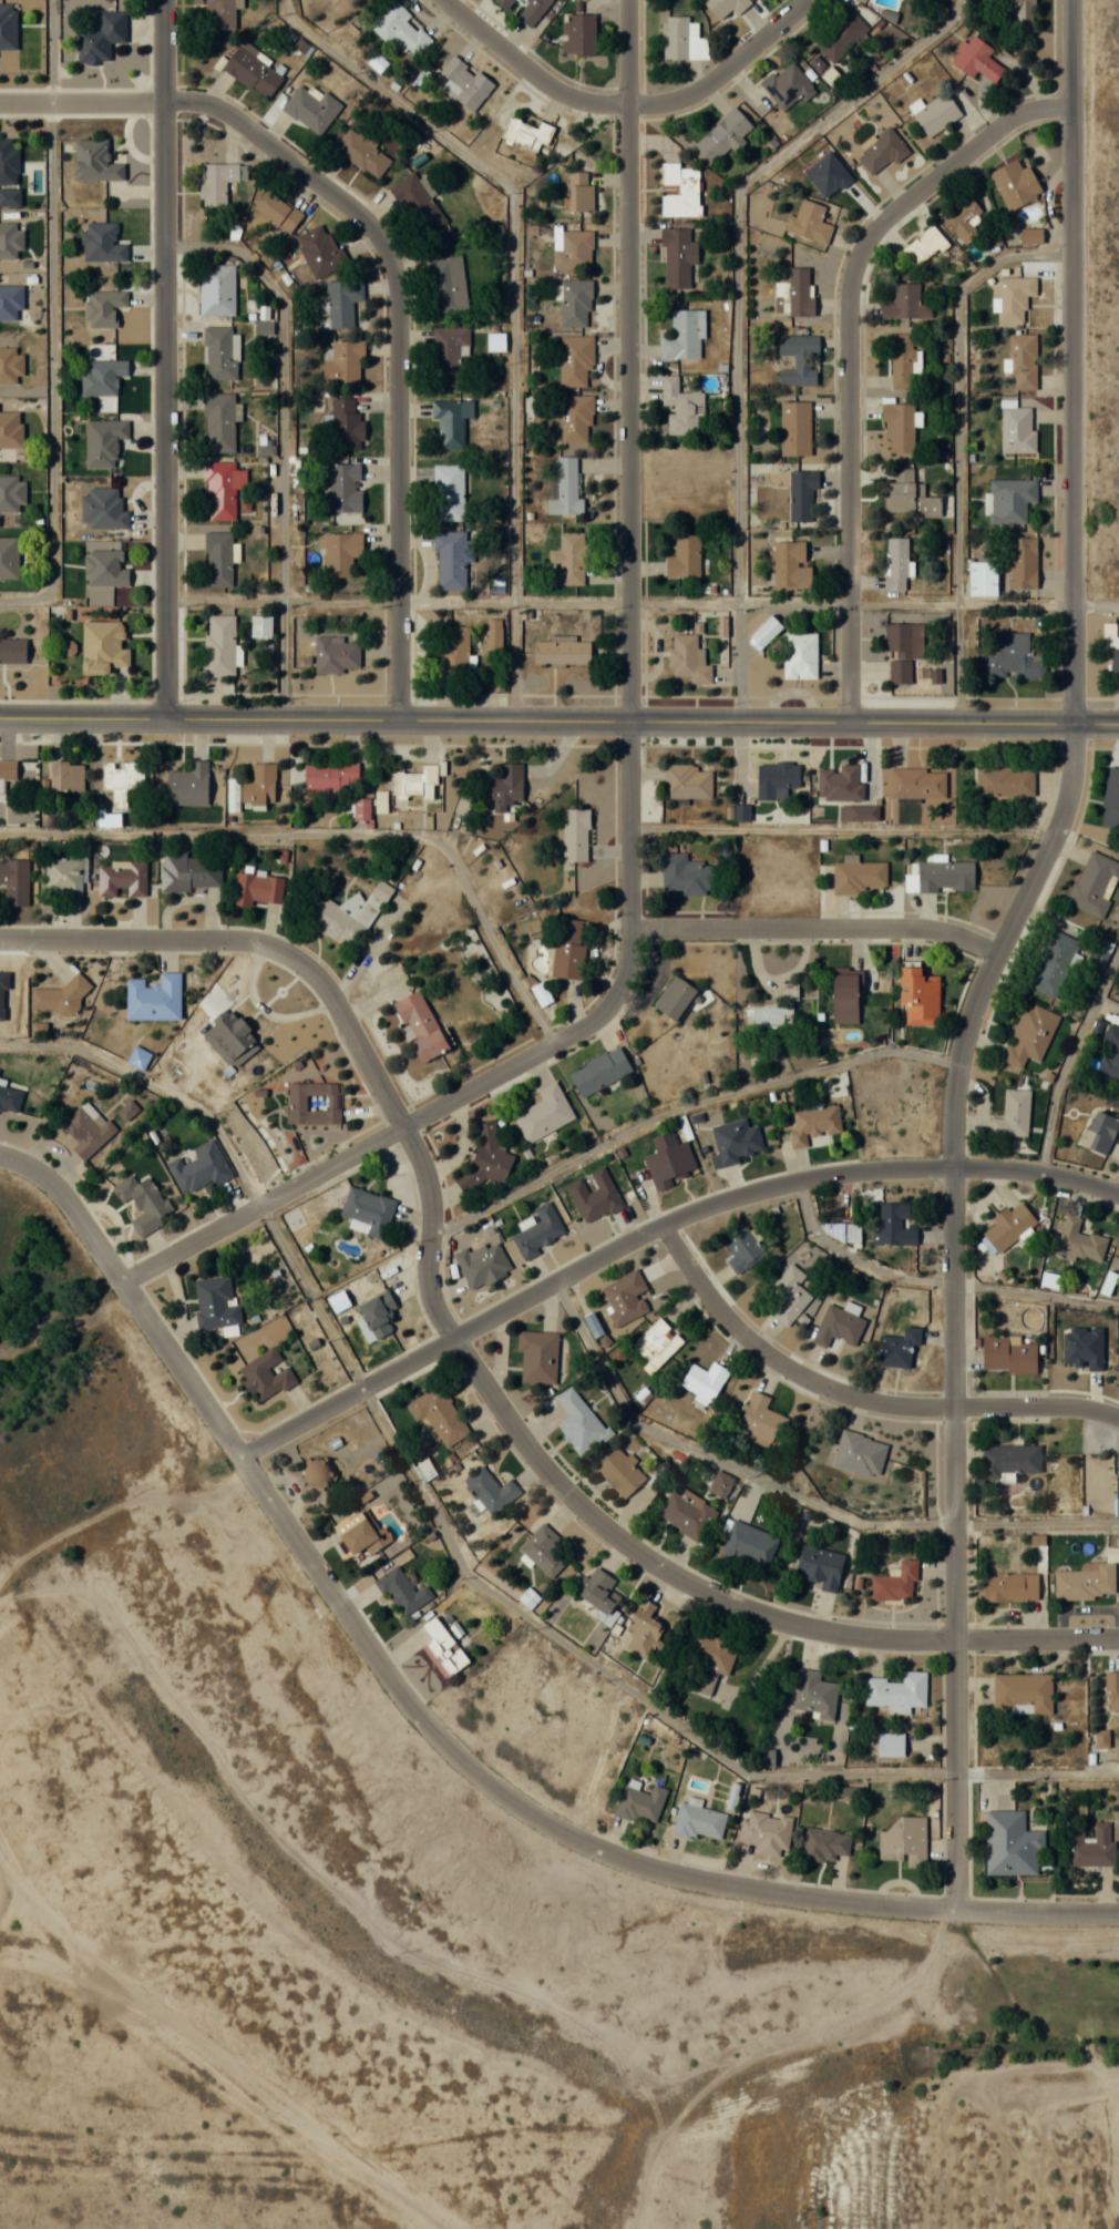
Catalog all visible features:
building: (503, 3)
building: (723, 8)
building: (531, 11)
building: (218, 13)
building: (1013, 13)
building: (401, 30)
building: (577, 33)
building: (840, 33)
building: (101, 37)
building: (676, 37)
building: (976, 58)
road: (723, 69)
road: (526, 70)
building: (251, 71)
building: (831, 78)
building: (464, 82)
building: (788, 85)
building: (310, 106)
building: (935, 112)
building: (526, 133)
building: (723, 135)
building: (880, 151)
building: (361, 153)
building: (94, 161)
building: (8, 163)
building: (217, 182)
building: (1015, 184)
building: (678, 190)
building: (578, 192)
building: (414, 201)
building: (277, 211)
building: (962, 218)
building: (808, 223)
building: (9, 239)
building: (102, 243)
building: (923, 246)
building: (573, 249)
building: (319, 250)
building: (677, 257)
road: (390, 265)
building: (445, 284)
building: (216, 289)
building: (793, 293)
building: (1014, 297)
building: (10, 301)
building: (342, 301)
building: (574, 303)
building: (905, 304)
road: (513, 305)
building: (103, 307)
road: (738, 307)
road: (51, 324)
building: (682, 335)
building: (219, 352)
building: (448, 352)
road: (848, 352)
road: (164, 358)
building: (798, 358)
building: (1022, 359)
building: (574, 360)
building: (900, 361)
road: (1071, 361)
building: (341, 364)
building: (10, 366)
building: (102, 376)
building: (680, 407)
building: (575, 417)
building: (218, 421)
building: (449, 421)
building: (346, 425)
building: (794, 427)
building: (897, 427)
building: (10, 429)
building: (1016, 429)
road: (281, 439)
building: (102, 441)
road: (957, 443)
building: (904, 473)
building: (565, 488)
building: (220, 489)
building: (446, 491)
building: (342, 492)
building: (11, 493)
building: (800, 494)
building: (908, 499)
building: (1009, 500)
building: (103, 509)
building: (340, 552)
building: (684, 556)
building: (8, 558)
building: (568, 558)
building: (218, 559)
building: (450, 560)
building: (896, 562)
building: (1022, 562)
building: (788, 564)
building: (104, 569)
building: (983, 579)
road: (618, 600)
road: (1096, 605)
building: (764, 631)
building: (218, 645)
building: (102, 647)
building: (1112, 647)
building: (902, 650)
building: (12, 651)
building: (452, 651)
building: (561, 651)
building: (337, 655)
building: (799, 655)
building: (1010, 656)
building: (688, 660)
road: (558, 720)
building: (7, 773)
building: (122, 775)
building: (65, 776)
building: (330, 776)
building: (776, 779)
building: (686, 783)
building: (840, 783)
building: (916, 783)
building: (1004, 783)
building: (258, 784)
building: (413, 784)
building: (187, 785)
road: (628, 786)
building: (503, 787)
building: (1110, 800)
building: (361, 809)
road: (842, 829)
building: (575, 835)
road: (337, 836)
building: (189, 872)
building: (64, 875)
building: (687, 875)
building: (859, 876)
building: (945, 876)
building: (121, 877)
building: (14, 881)
building: (1094, 883)
building: (257, 888)
building: (346, 914)
road: (817, 929)
building: (568, 948)
building: (1099, 952)
building: (1054, 962)
building: (541, 994)
building: (846, 995)
building: (918, 996)
building: (58, 998)
building: (675, 998)
building: (153, 999)
building: (774, 1010)
building: (419, 1025)
building: (230, 1034)
building: (1029, 1035)
building: (1111, 1052)
building: (137, 1057)
road: (1067, 1059)
building: (599, 1071)
road: (154, 1087)
building: (9, 1100)
building: (311, 1103)
road: (682, 1107)
building: (544, 1114)
building: (1012, 1114)
building: (813, 1123)
building: (85, 1129)
building: (1101, 1133)
building: (736, 1141)
building: (486, 1159)
building: (670, 1165)
building: (199, 1168)
building: (595, 1196)
building: (142, 1203)
building: (367, 1211)
building: (893, 1226)
building: (1008, 1226)
road: (655, 1227)
building: (537, 1231)
building: (1079, 1241)
building: (742, 1250)
building: (482, 1265)
building: (1049, 1279)
road: (935, 1281)
building: (1108, 1282)
building: (789, 1295)
building: (624, 1297)
building: (215, 1301)
road: (953, 1305)
building: (376, 1316)
building: (838, 1327)
building: (656, 1344)
building: (897, 1348)
building: (1007, 1353)
building: (537, 1357)
road: (470, 1366)
building: (265, 1374)
building: (704, 1381)
road: (855, 1395)
building: (439, 1415)
building: (760, 1420)
building: (579, 1423)
building: (859, 1452)
building: (1009, 1460)
building: (620, 1472)
building: (719, 1484)
building: (487, 1492)
road: (791, 1492)
building: (687, 1514)
building: (360, 1535)
building: (748, 1546)
building: (543, 1551)
building: (820, 1566)
building: (1086, 1582)
building: (894, 1583)
building: (1009, 1587)
building: (402, 1592)
building: (597, 1594)
road: (517, 1612)
building: (644, 1632)
building: (443, 1648)
building: (710, 1658)
building: (1112, 1689)
building: (896, 1690)
building: (1022, 1691)
building: (813, 1695)
road: (433, 1732)
road: (1037, 1771)
building: (639, 1801)
building: (698, 1821)
building: (766, 1832)
building: (904, 1841)
building: (1010, 1843)
building: (823, 1844)
building: (1092, 1845)
road: (1018, 1960)
park: (1014, 2013)
road: (1013, 2031)
road: (1088, 2044)

